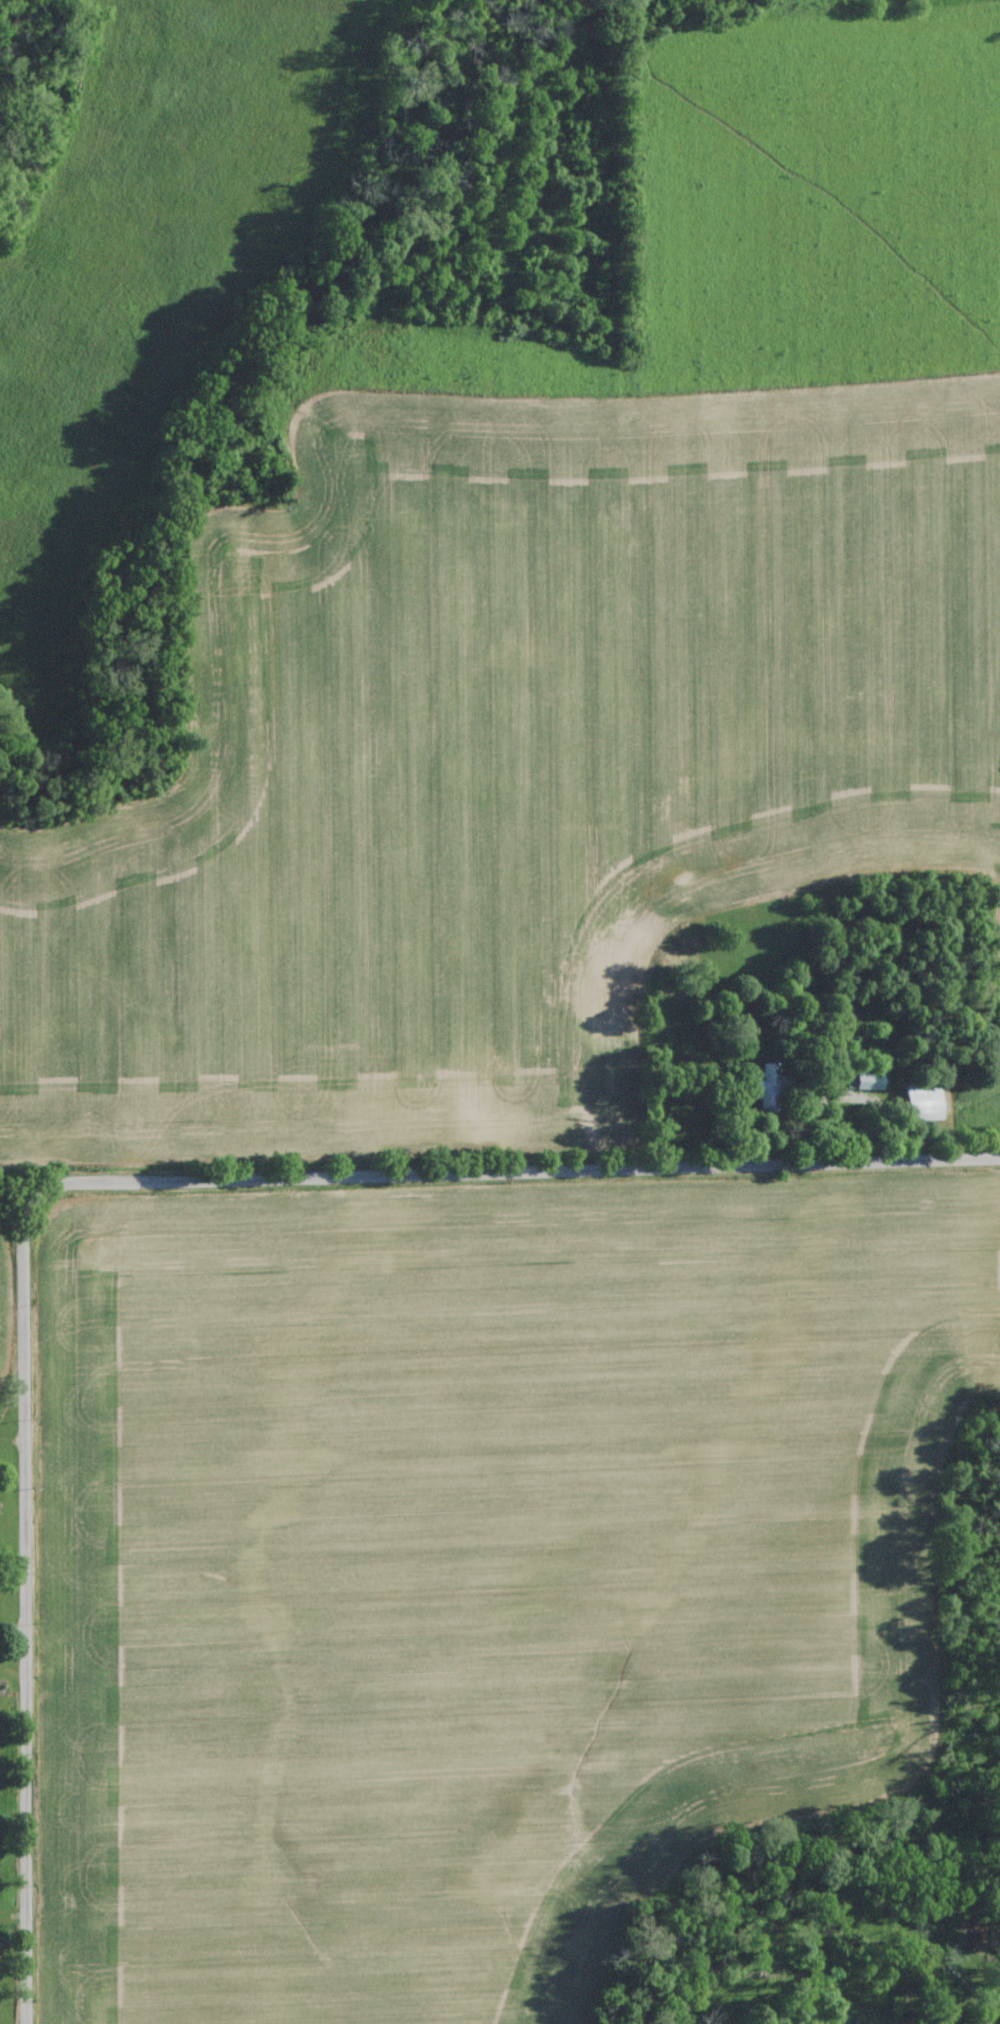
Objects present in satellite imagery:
road: (172, 590)
building: (869, 1080)
building: (766, 1097)
building: (923, 1101)
road: (536, 1170)
road: (27, 1589)

